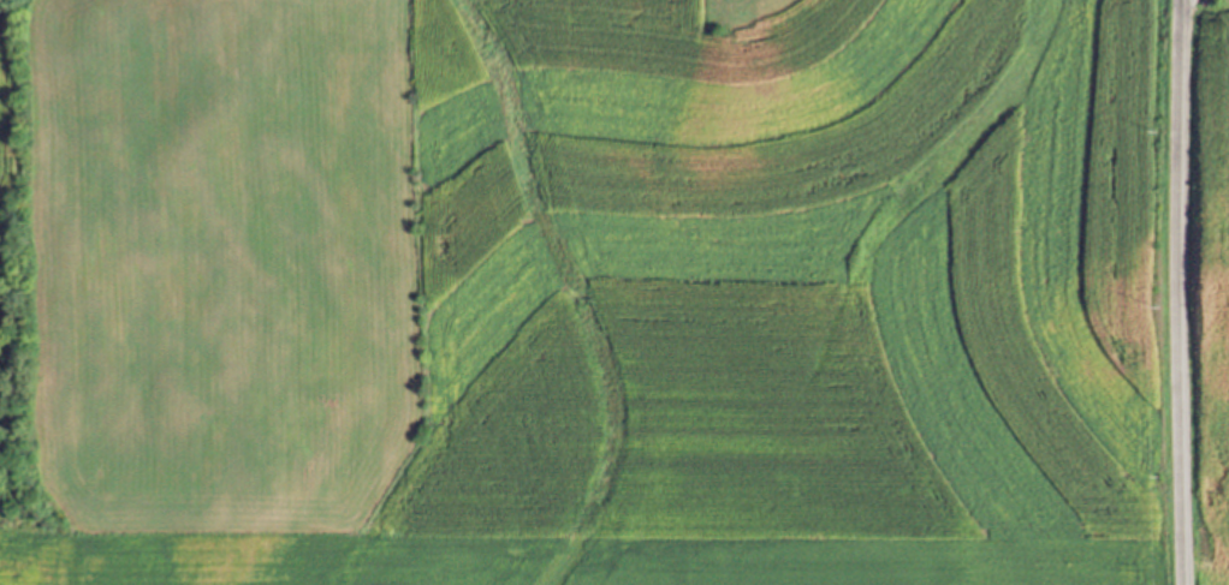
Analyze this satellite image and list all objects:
road: (1175, 292)

